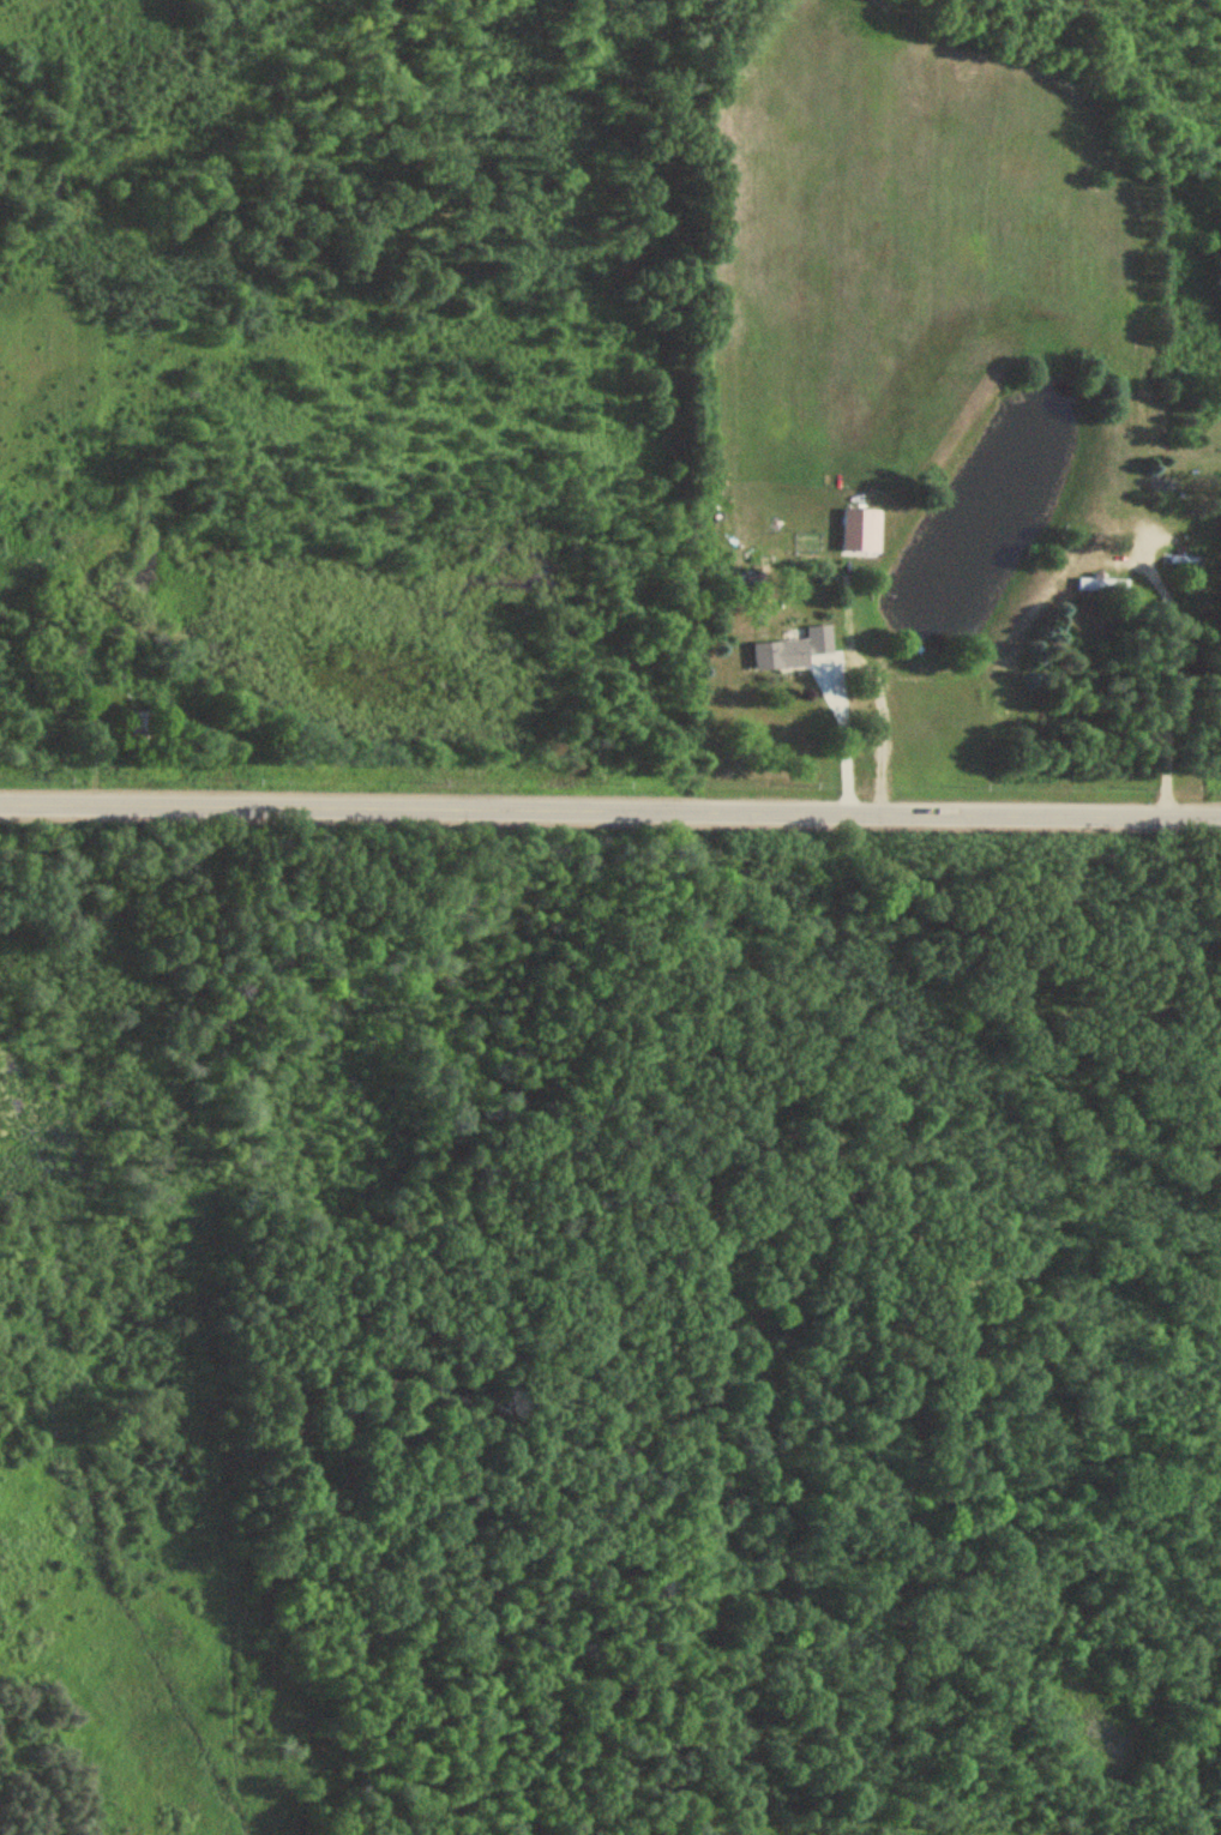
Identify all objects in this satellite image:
building: (1177, 556)
building: (1099, 583)
building: (790, 650)
building: (133, 726)
road: (844, 740)
road: (610, 812)
river: (74, 1474)

